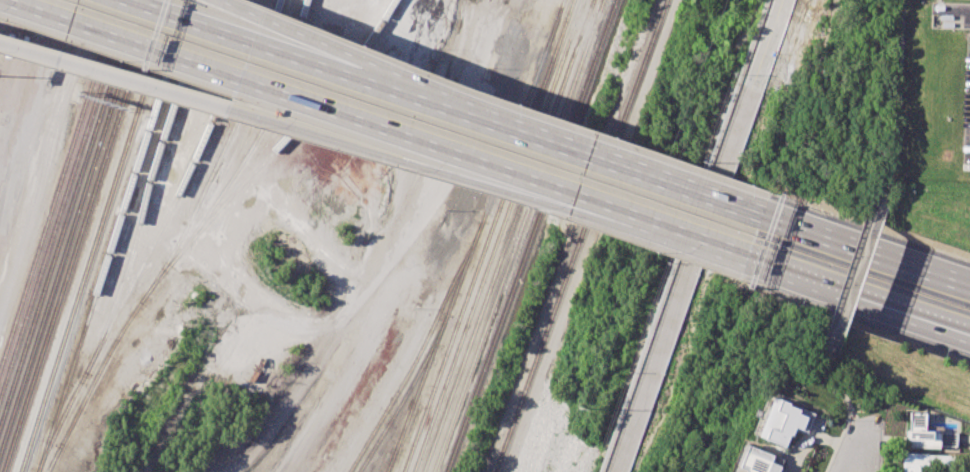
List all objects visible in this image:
road: (262, 29)
road: (217, 31)
railway: (119, 51)
railway: (128, 52)
railway: (136, 53)
road: (896, 93)
road: (288, 96)
parking lot: (967, 99)
park: (824, 106)
railway: (129, 109)
road: (281, 125)
railway: (257, 138)
road: (534, 140)
road: (50, 151)
railway: (223, 153)
railway: (58, 183)
railway: (148, 184)
railway: (63, 197)
railway: (206, 224)
road: (656, 226)
railway: (97, 235)
railway: (489, 235)
railway: (499, 235)
railway: (509, 235)
railway: (518, 235)
railway: (580, 235)
road: (695, 235)
railway: (114, 236)
railway: (476, 236)
railway: (532, 236)
railway: (155, 239)
road: (865, 250)
railway: (51, 263)
road: (858, 272)
railway: (55, 278)
railway: (60, 289)
road: (858, 295)
railway: (420, 352)
park: (745, 376)
railway: (408, 391)
road: (841, 392)
power tower: (577, 409)
building: (785, 420)
building: (927, 434)
road: (875, 440)
road: (848, 451)
railway: (54, 459)
building: (759, 460)
building: (927, 462)

